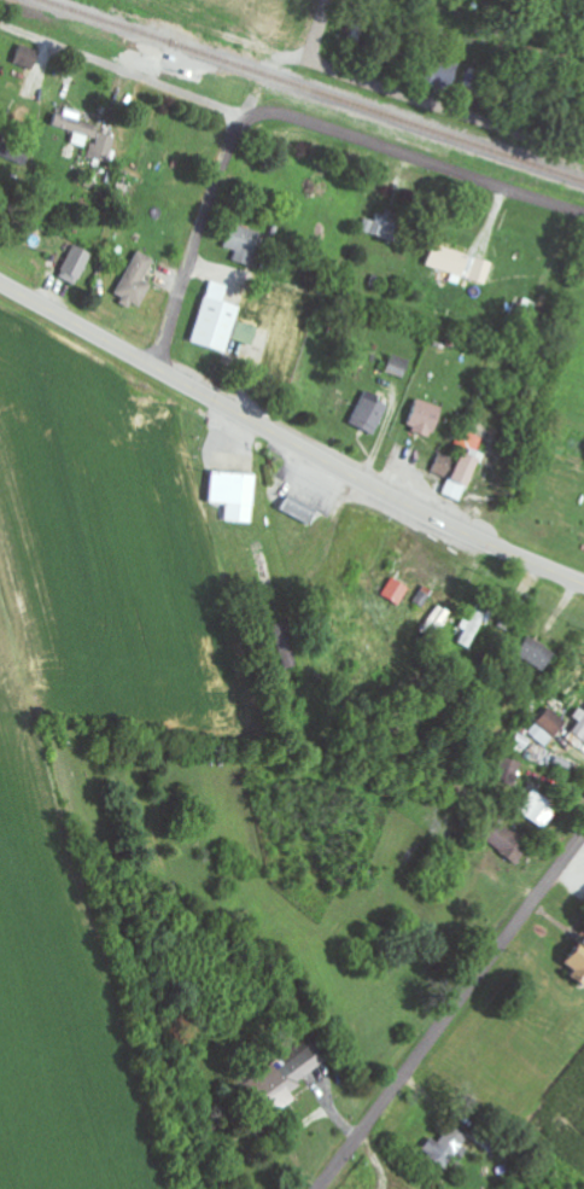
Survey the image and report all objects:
road: (327, 31)
building: (28, 58)
road: (145, 76)
railway: (311, 91)
road: (451, 111)
building: (87, 136)
building: (2, 148)
road: (415, 157)
building: (381, 228)
road: (202, 239)
building: (244, 241)
building: (76, 264)
building: (460, 264)
building: (138, 280)
building: (217, 319)
building: (246, 333)
building: (398, 366)
road: (390, 404)
building: (370, 413)
building: (426, 418)
road: (234, 430)
road: (287, 441)
building: (459, 474)
building: (235, 495)
building: (300, 509)
building: (397, 591)
building: (285, 646)
building: (537, 653)
building: (579, 724)
building: (548, 728)
building: (539, 809)
building: (508, 841)
building: (578, 962)
road: (450, 1013)
building: (292, 1076)
building: (448, 1147)

